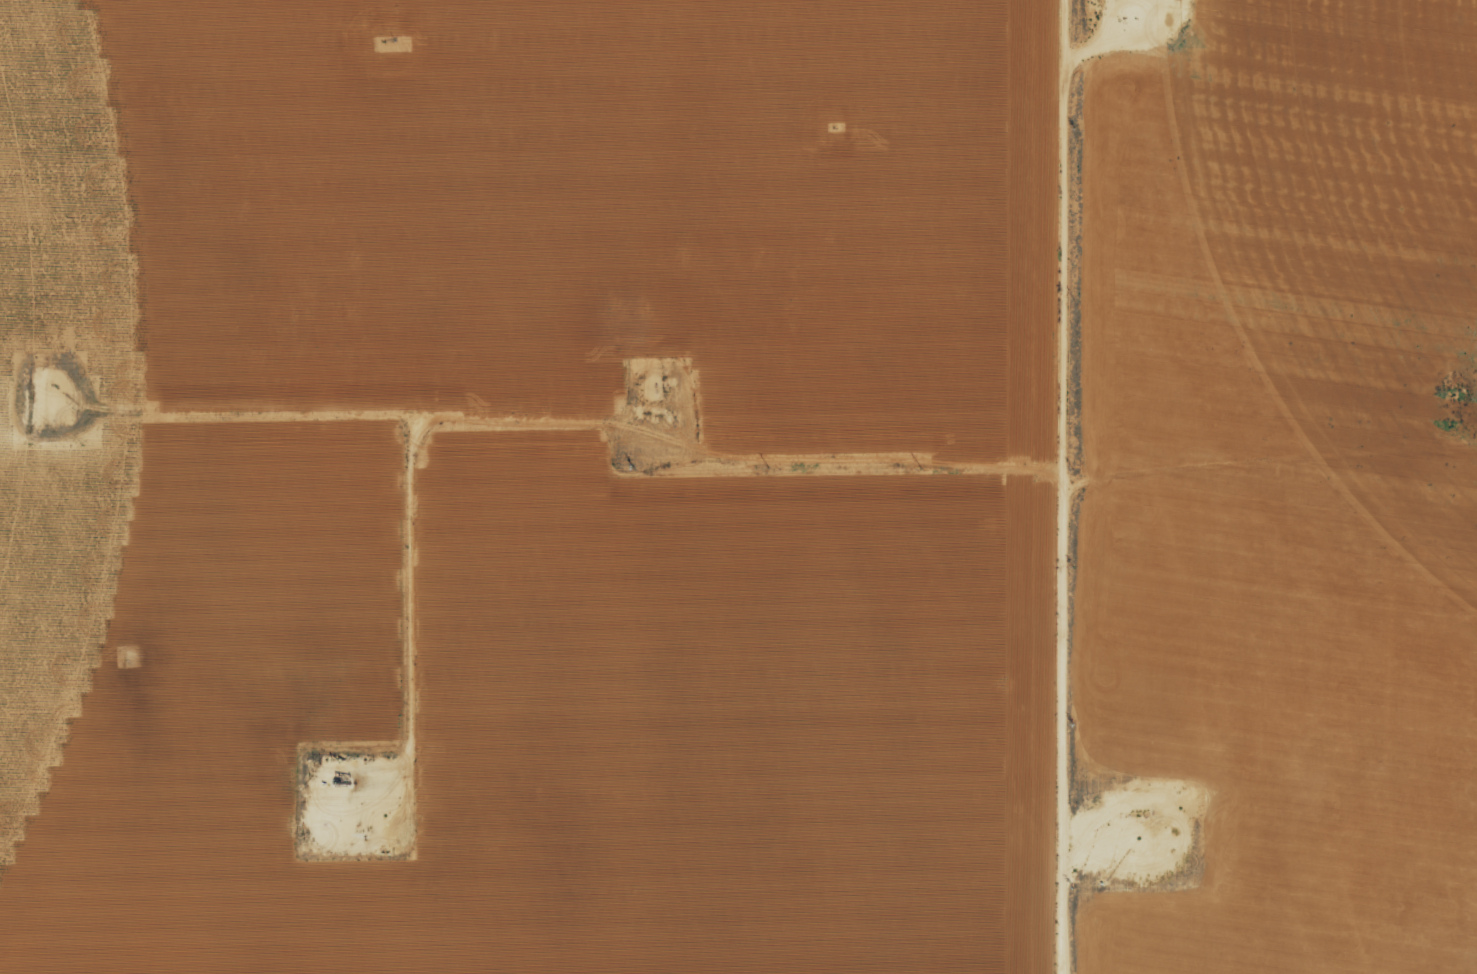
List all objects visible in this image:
road: (1071, 486)
road: (1275, 491)
petroleum well: (331, 780)
petroleum well: (1146, 814)

